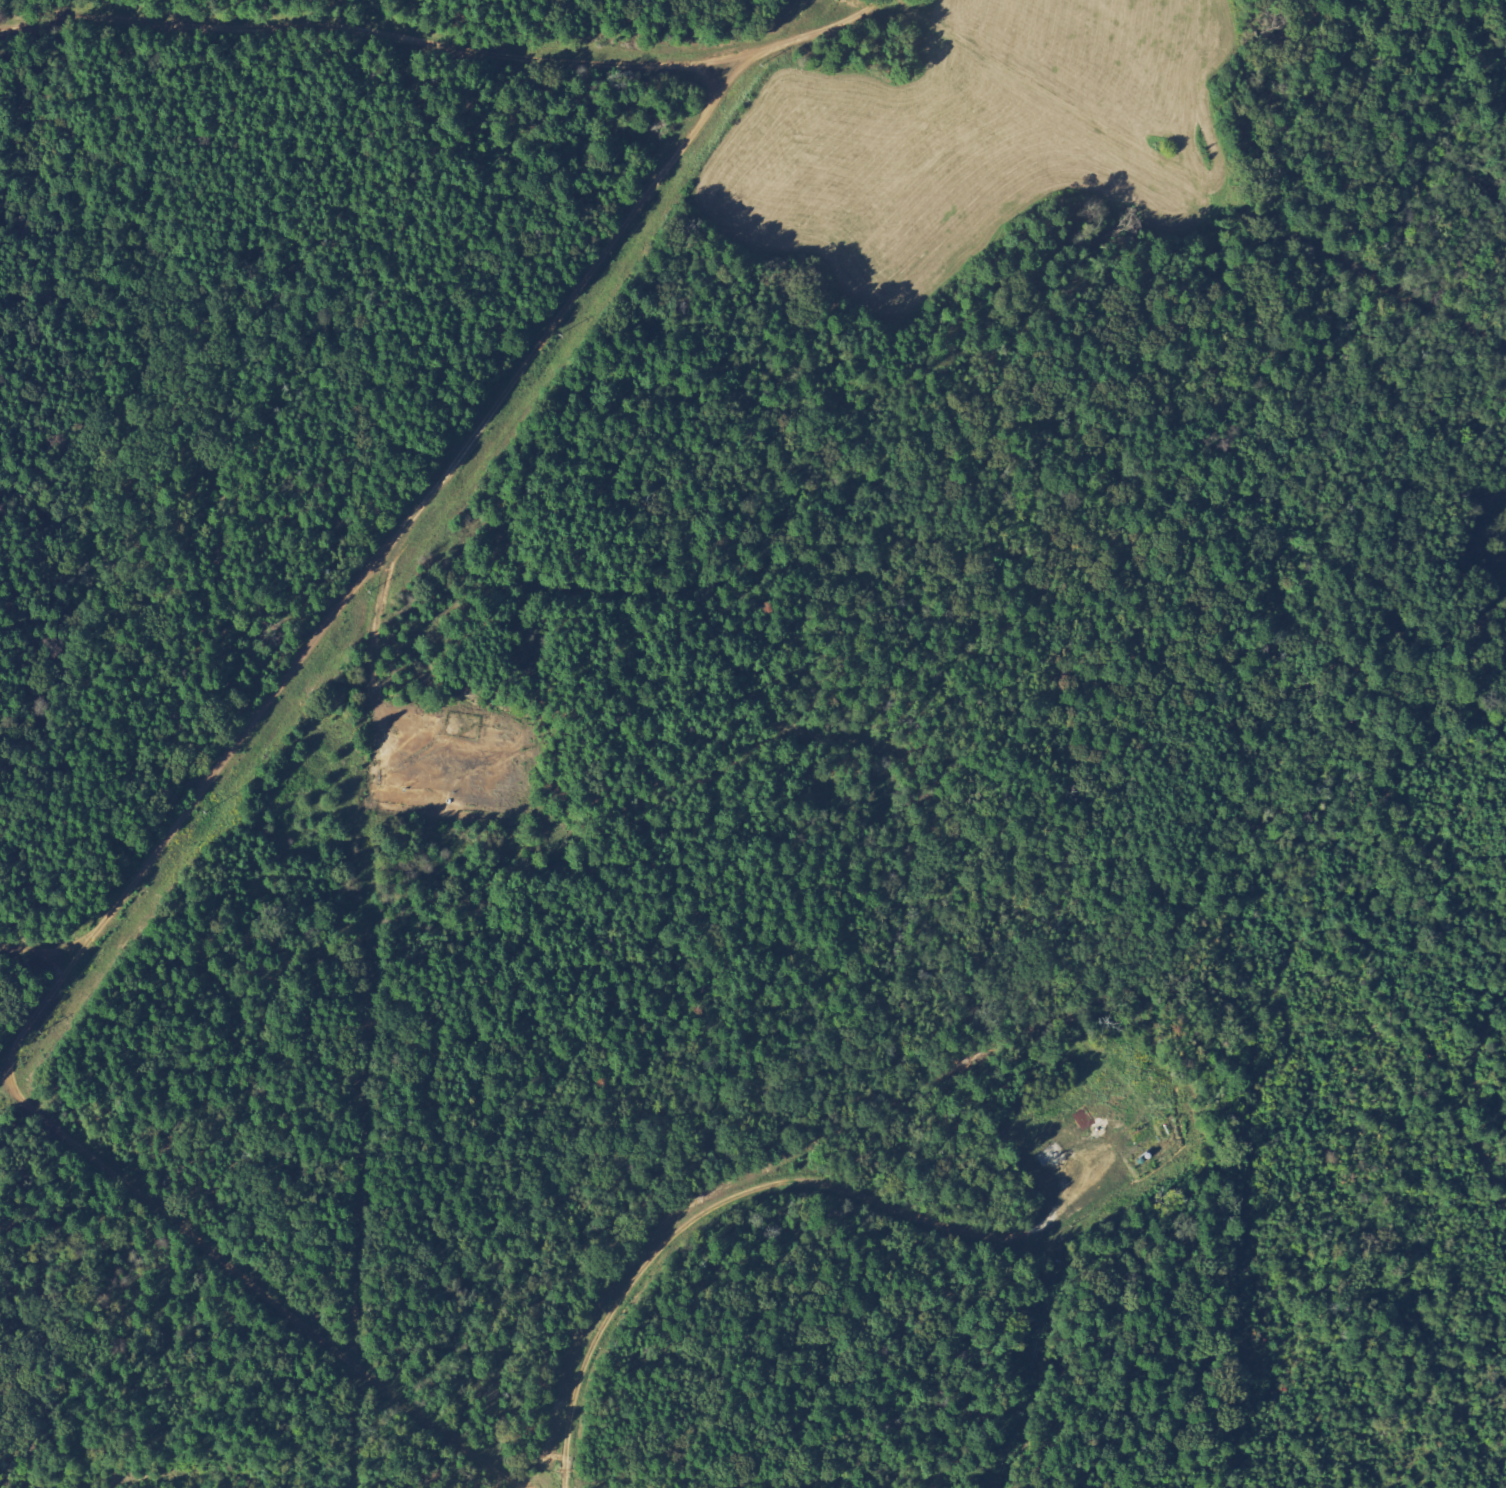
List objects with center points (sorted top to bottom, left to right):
road: (446, 46)
road: (169, 833)

